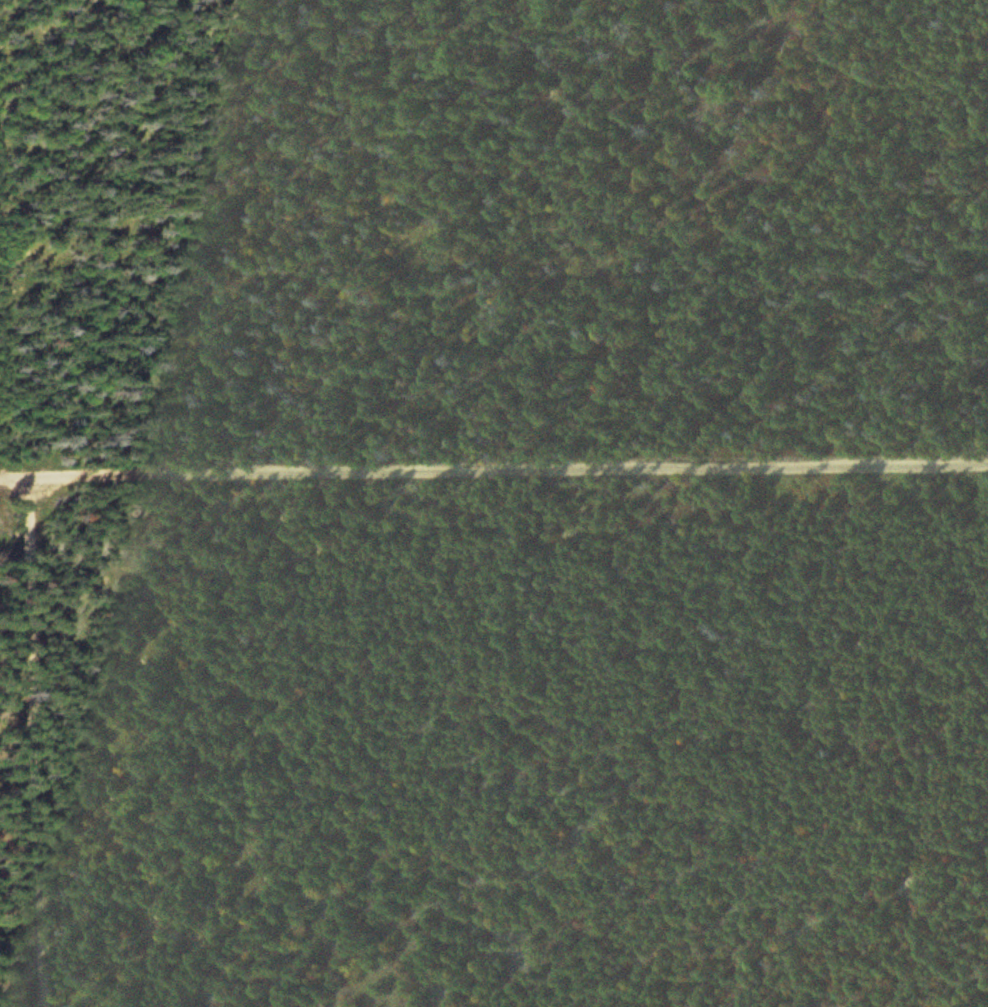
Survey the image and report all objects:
road: (494, 474)
road: (39, 744)

